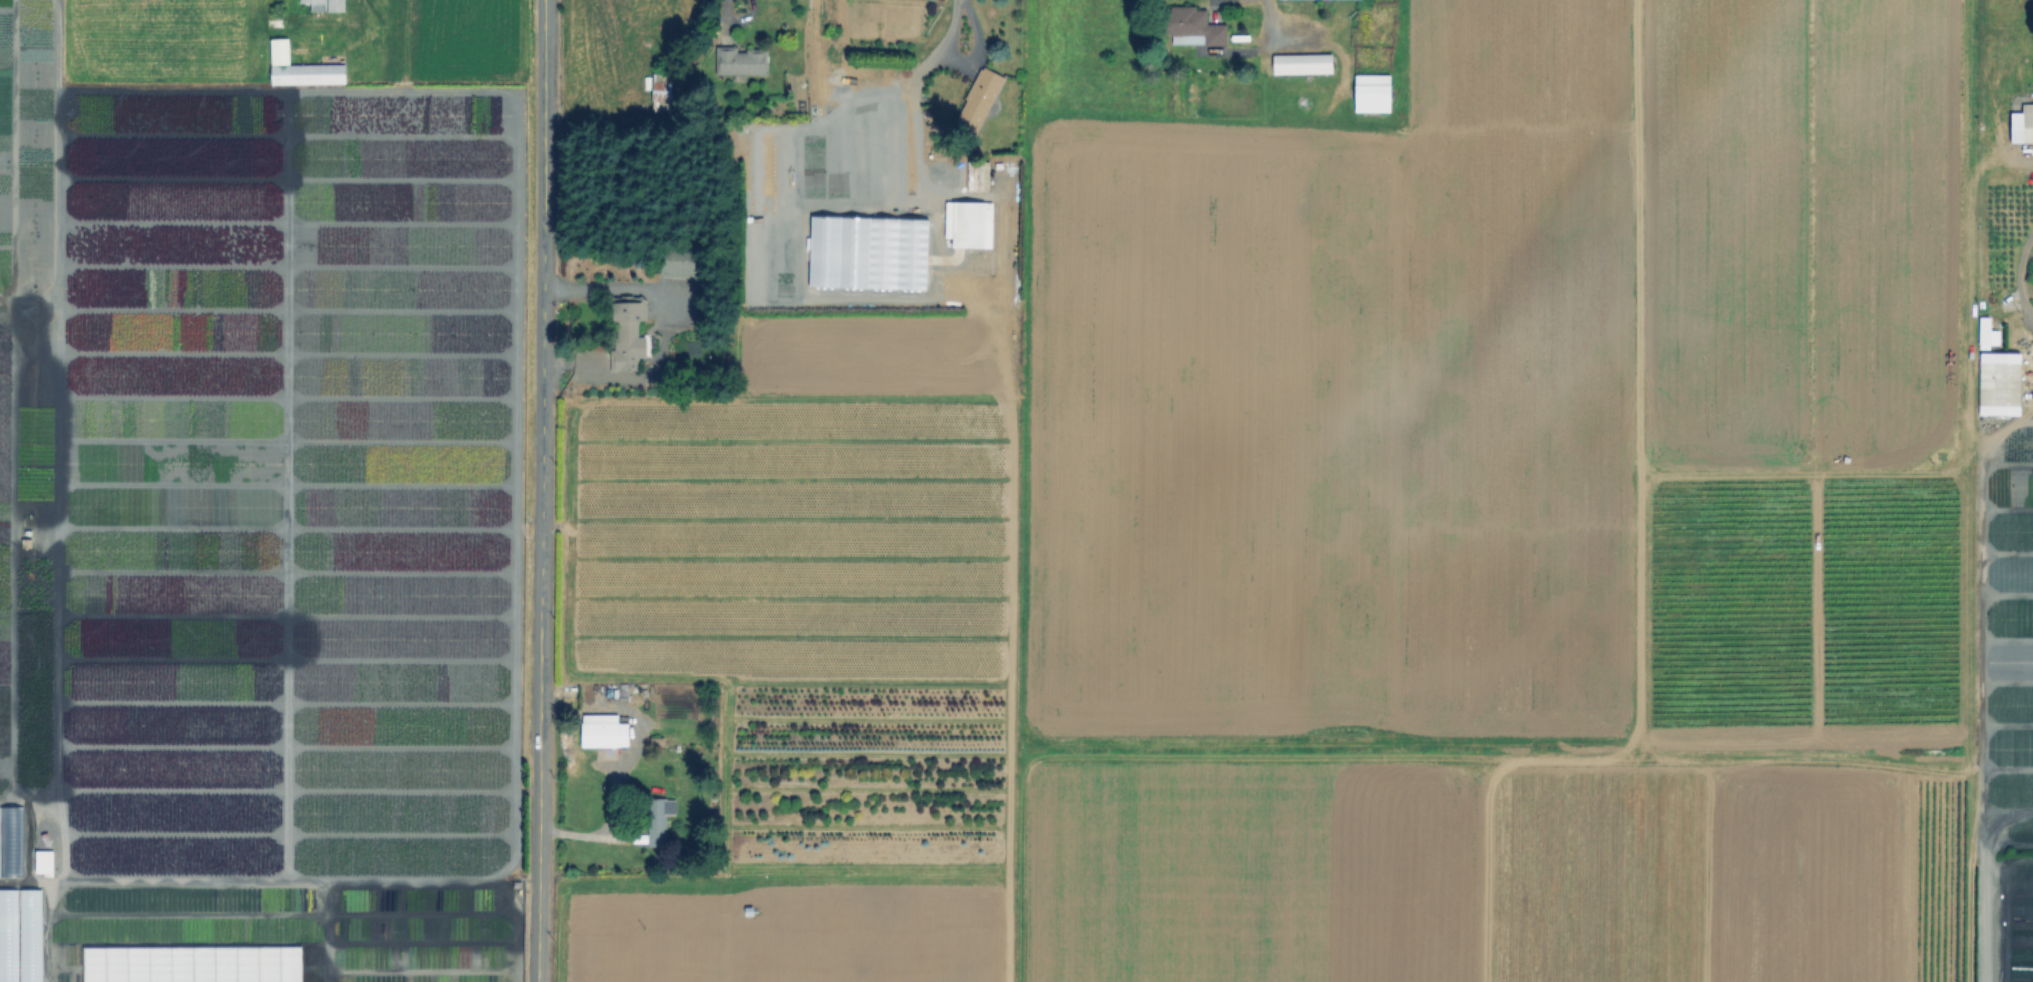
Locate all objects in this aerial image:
building: (317, 5)
building: (339, 6)
road: (730, 26)
building: (1192, 26)
road: (950, 32)
building: (1226, 54)
building: (742, 62)
building: (1305, 64)
building: (303, 71)
building: (663, 93)
building: (1374, 94)
building: (979, 104)
building: (2023, 126)
building: (974, 224)
building: (681, 261)
road: (2016, 276)
road: (666, 303)
building: (628, 332)
building: (1990, 332)
road: (572, 363)
building: (1997, 383)
road: (543, 491)
crop: (1268, 492)
road: (1981, 683)
building: (606, 733)
building: (659, 819)
building: (10, 841)
building: (42, 861)
building: (30, 932)
building: (7, 935)

